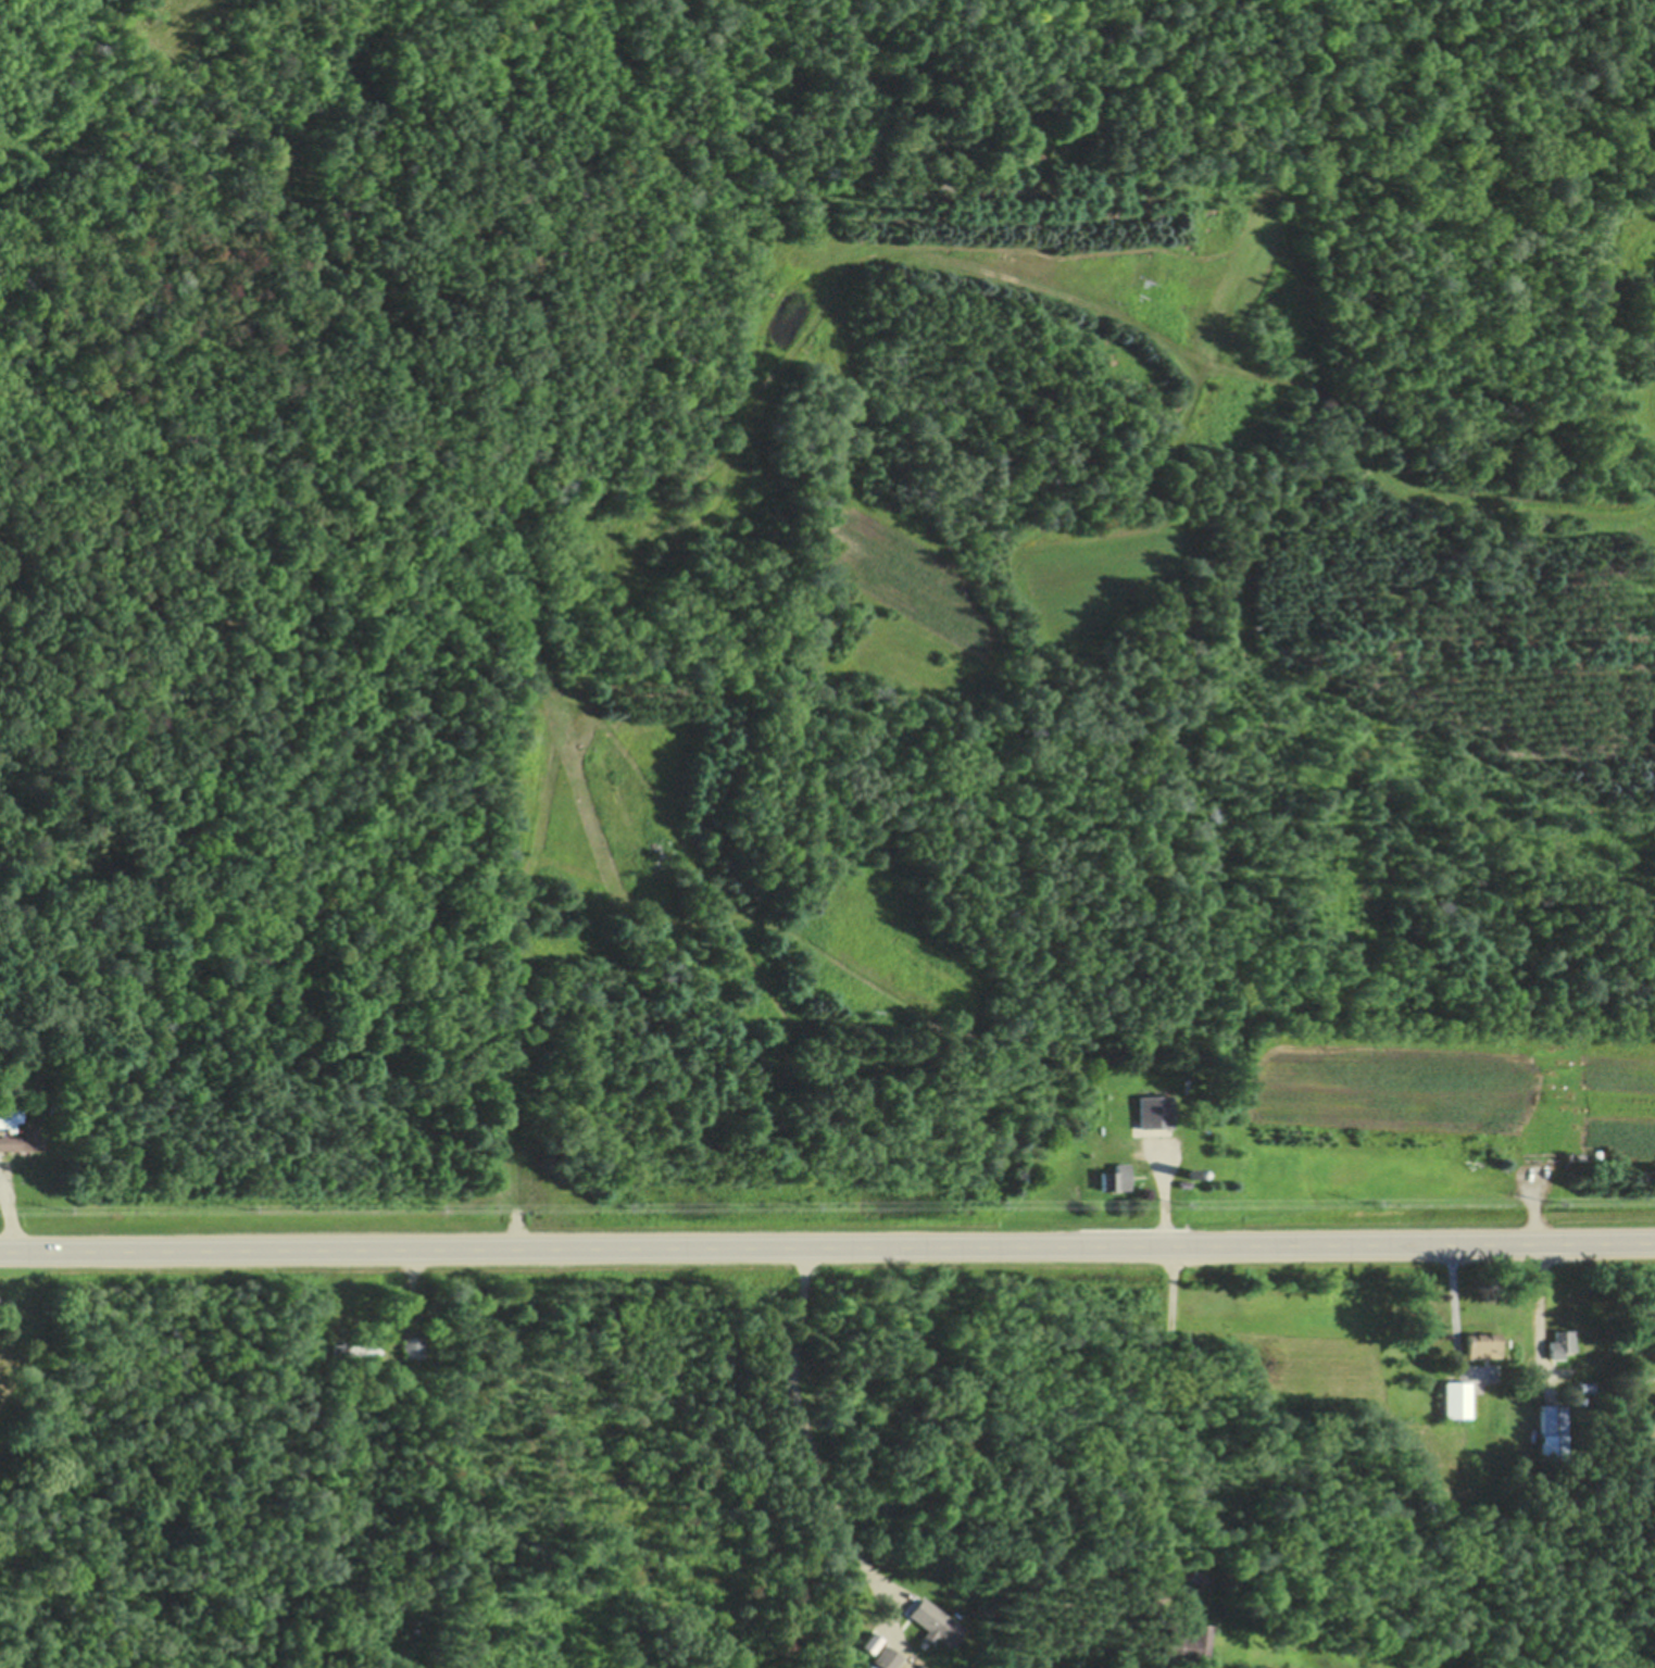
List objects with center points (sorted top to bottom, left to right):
building: (51, 1048)
building: (51, 1074)
building: (54, 1103)
building: (1154, 1109)
building: (9, 1114)
building: (22, 1138)
building: (1570, 1151)
building: (1192, 1172)
building: (1113, 1177)
building: (1182, 1182)
power tower: (1367, 1201)
power tower: (1551, 1201)
power tower: (1182, 1204)
power tower: (59, 1206)
power tower: (619, 1206)
power tower: (812, 1206)
power tower: (242, 1207)
power tower: (432, 1207)
power tower: (995, 1207)
road: (827, 1245)
building: (1558, 1341)
building: (1481, 1342)
building: (411, 1344)
building: (355, 1346)
building: (1454, 1396)
building: (1573, 1397)
building: (1550, 1430)
building: (940, 1620)
building: (1187, 1639)
building: (872, 1641)
building: (886, 1656)

